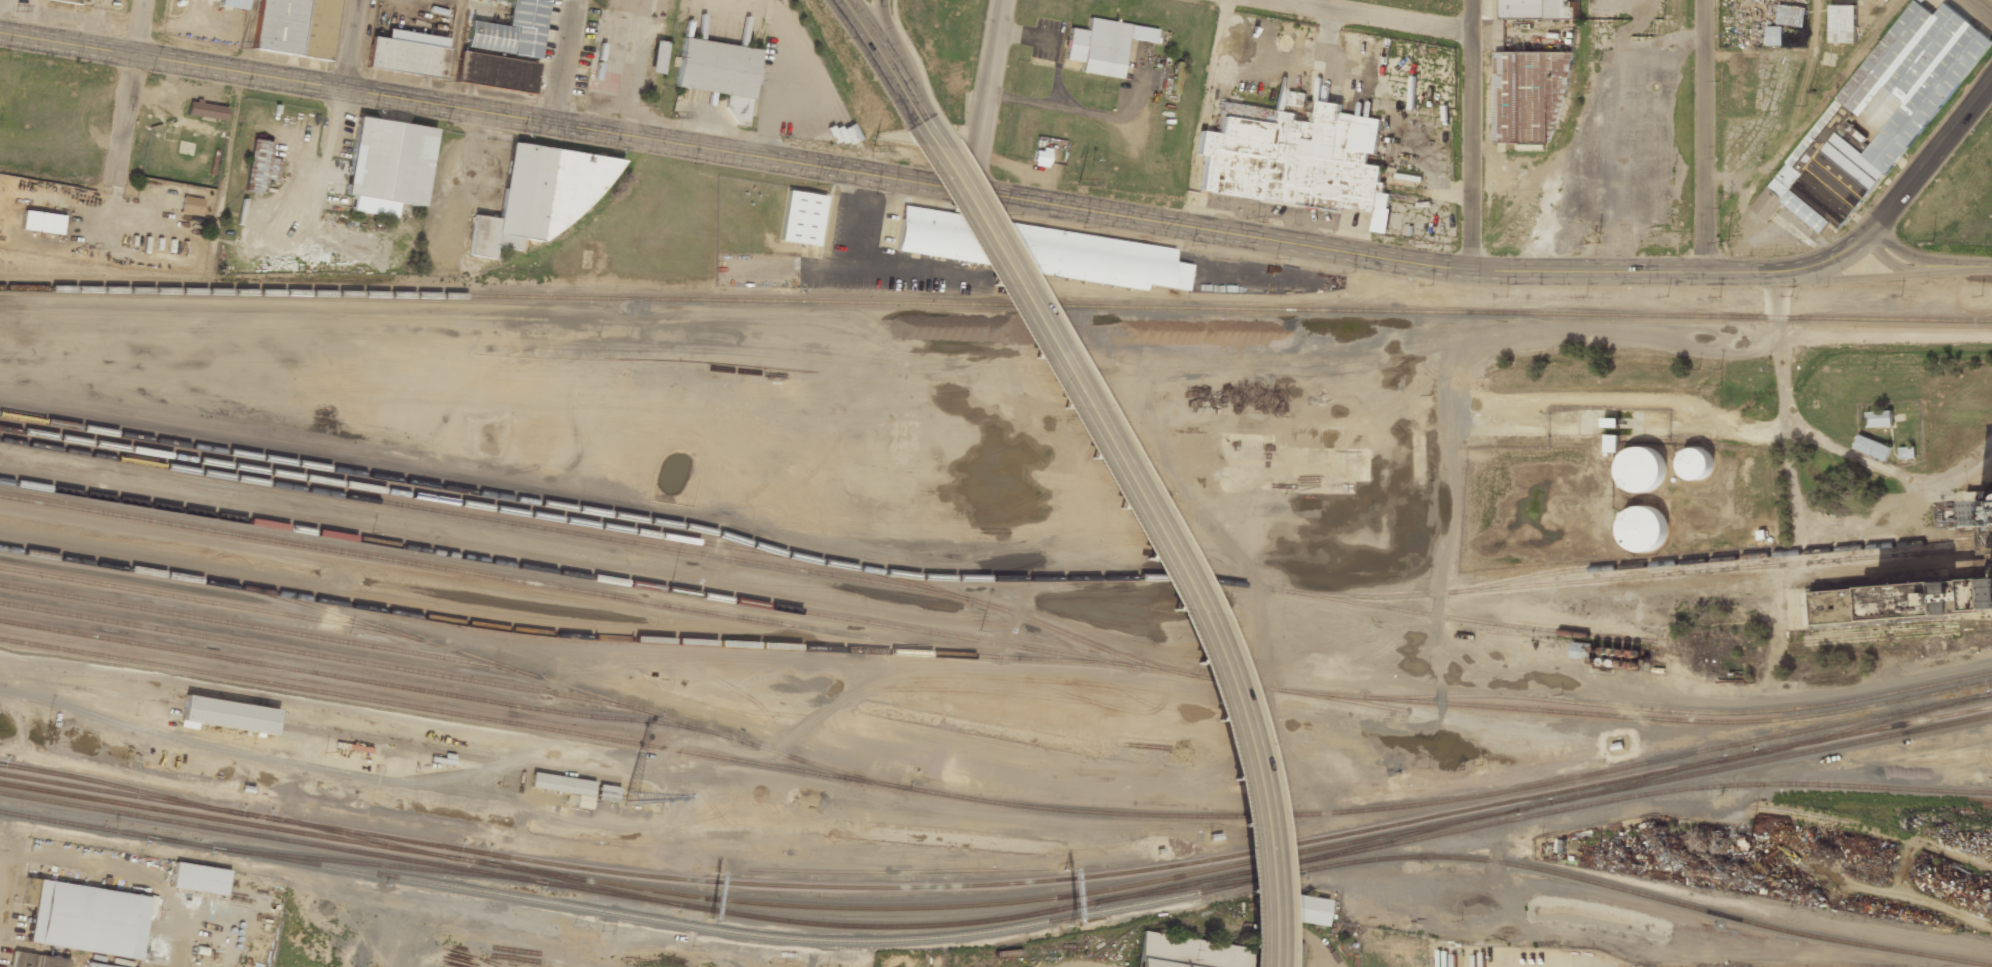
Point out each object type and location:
building: (65, 1)
building: (233, 4)
road: (1981, 8)
building: (1539, 10)
building: (1791, 15)
road: (1383, 16)
building: (1842, 23)
building: (295, 27)
building: (511, 32)
road: (882, 32)
building: (1774, 35)
road: (245, 36)
road: (351, 45)
building: (1103, 46)
road: (450, 53)
building: (407, 55)
building: (657, 57)
road: (884, 59)
road: (565, 62)
building: (715, 68)
building: (494, 73)
building: (602, 81)
road: (127, 87)
road: (990, 98)
building: (1529, 98)
building: (206, 110)
road: (1209, 117)
building: (1874, 119)
road: (1471, 135)
road: (1706, 135)
road: (1929, 154)
building: (1295, 158)
building: (260, 166)
building: (387, 166)
road: (934, 189)
building: (540, 199)
building: (190, 205)
building: (800, 219)
building: (42, 222)
building: (931, 234)
building: (1097, 259)
road: (1923, 265)
road: (1863, 278)
railway: (887, 301)
railway: (1879, 318)
railway: (1988, 320)
building: (1879, 418)
building: (1610, 442)
building: (1872, 447)
building: (1906, 452)
building: (1696, 463)
building: (1641, 468)
railway: (401, 480)
railway: (474, 517)
road: (1154, 524)
building: (1643, 529)
railway: (1728, 557)
railway: (583, 575)
railway: (504, 578)
railway: (991, 578)
building: (1911, 590)
railway: (198, 601)
railway: (1014, 614)
railway: (1484, 620)
railway: (1904, 623)
railway: (260, 628)
railway: (1905, 633)
railway: (673, 642)
railway: (441, 647)
building: (1581, 650)
railway: (320, 655)
railway: (349, 678)
railway: (1285, 690)
railway: (1681, 710)
railway: (1538, 711)
building: (227, 715)
railway: (1641, 717)
railway: (1870, 722)
railway: (1658, 749)
railway: (2, 763)
railway: (1651, 771)
railway: (1637, 779)
railway: (59, 784)
railway: (121, 786)
building: (565, 787)
railway: (58, 792)
building: (606, 793)
railway: (995, 802)
railway: (181, 804)
railway: (1539, 813)
railway: (255, 816)
railway: (1872, 828)
railway: (287, 830)
railway: (1404, 834)
railway: (363, 837)
railway: (339, 848)
railway: (1448, 856)
railway: (472, 860)
railway: (1242, 862)
railway: (379, 864)
road: (5, 877)
building: (199, 880)
railway: (581, 883)
railway: (789, 885)
railway: (1195, 886)
building: (1307, 911)
railway: (647, 917)
building: (85, 919)
railway: (886, 925)
railway: (1793, 931)
building: (1186, 953)
building: (36, 960)
building: (90, 966)

